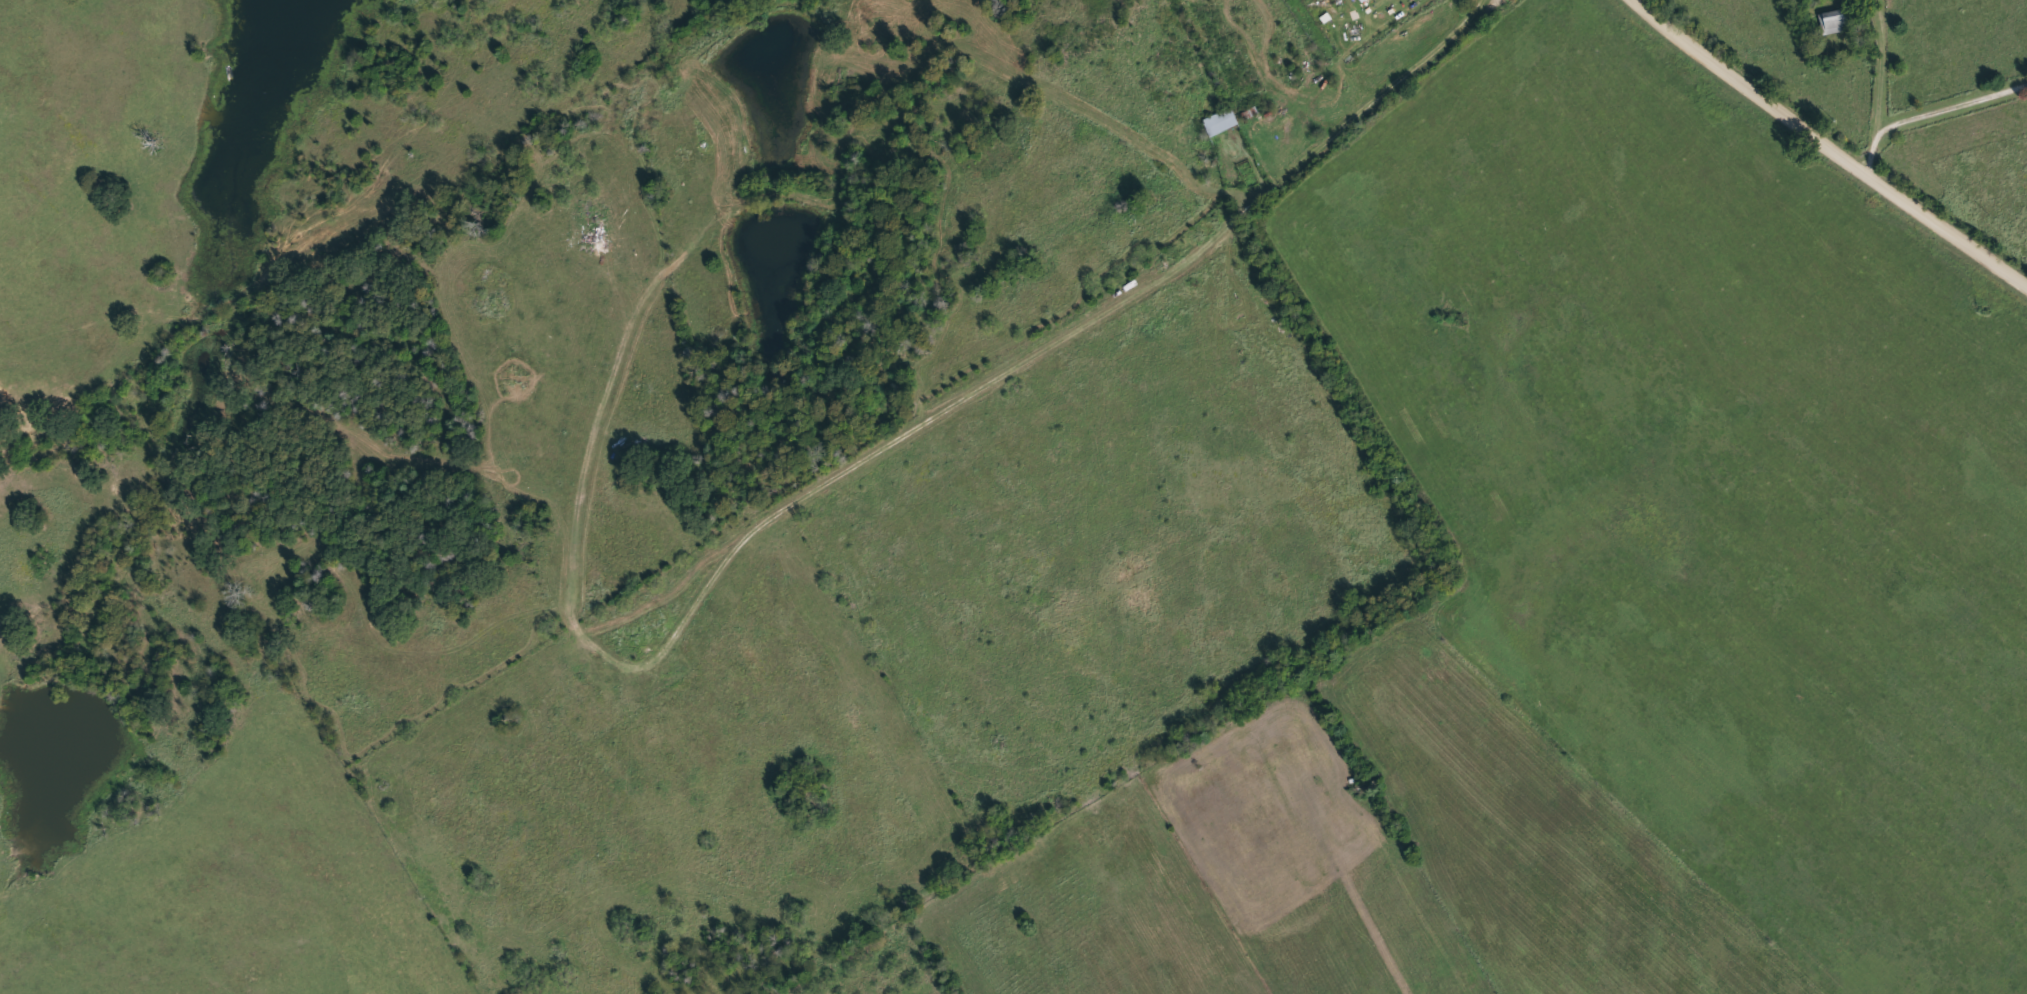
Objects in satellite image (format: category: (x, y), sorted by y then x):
building: (1836, 20)
road: (1880, 86)
road: (1751, 88)
road: (1951, 103)
building: (1220, 121)
road: (1947, 229)
road: (1070, 329)

